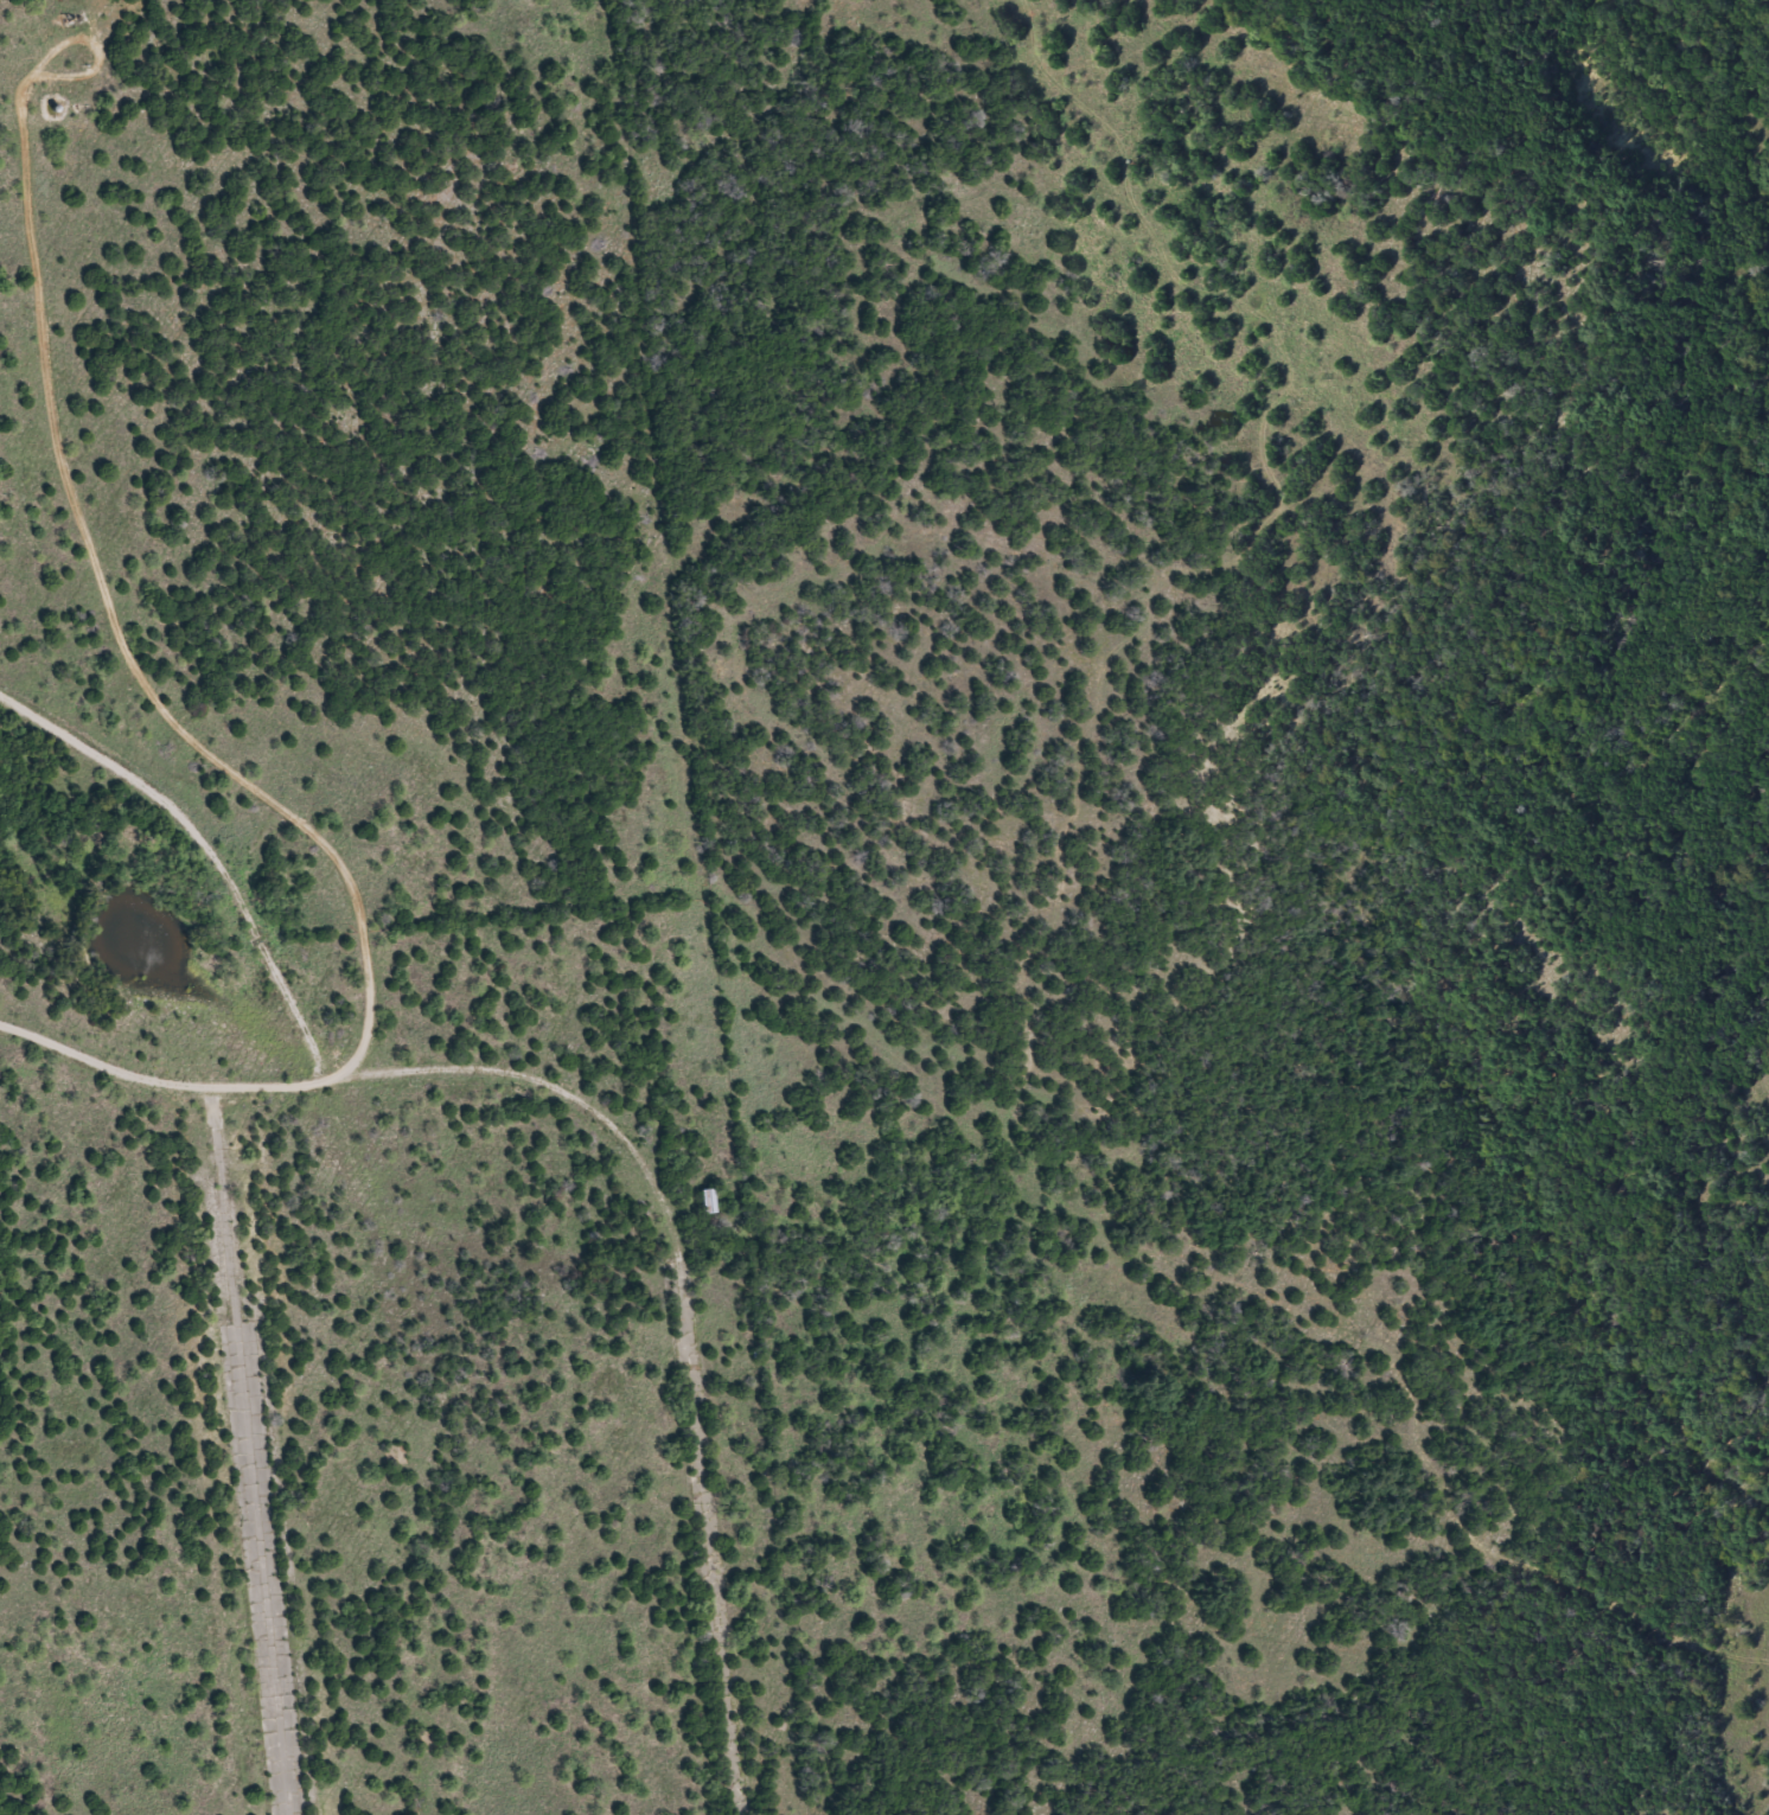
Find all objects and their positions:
road: (56, 43)
road: (216, 761)
building: (709, 1203)
road: (684, 1315)
road: (247, 1449)
road: (1554, 1593)

